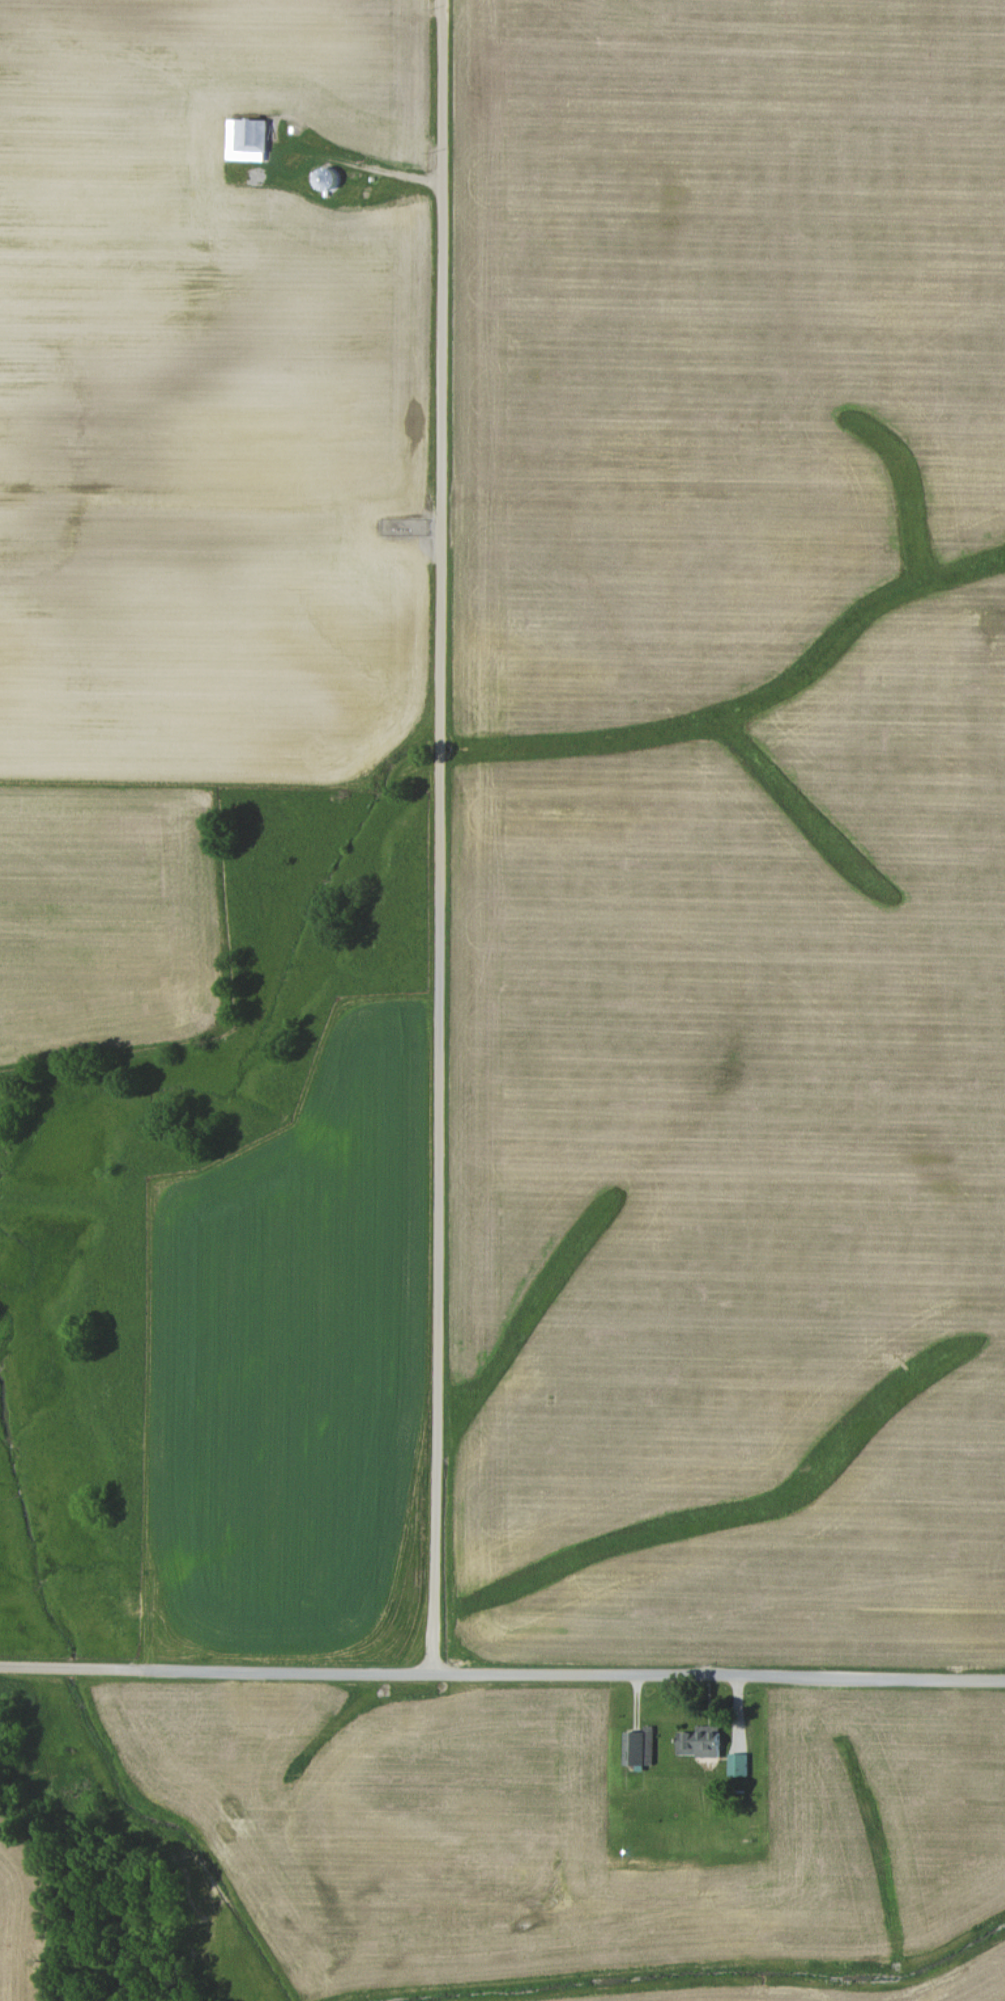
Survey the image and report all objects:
road: (364, 176)
road: (439, 837)
road: (502, 1674)
building: (698, 1745)
building: (737, 1764)

